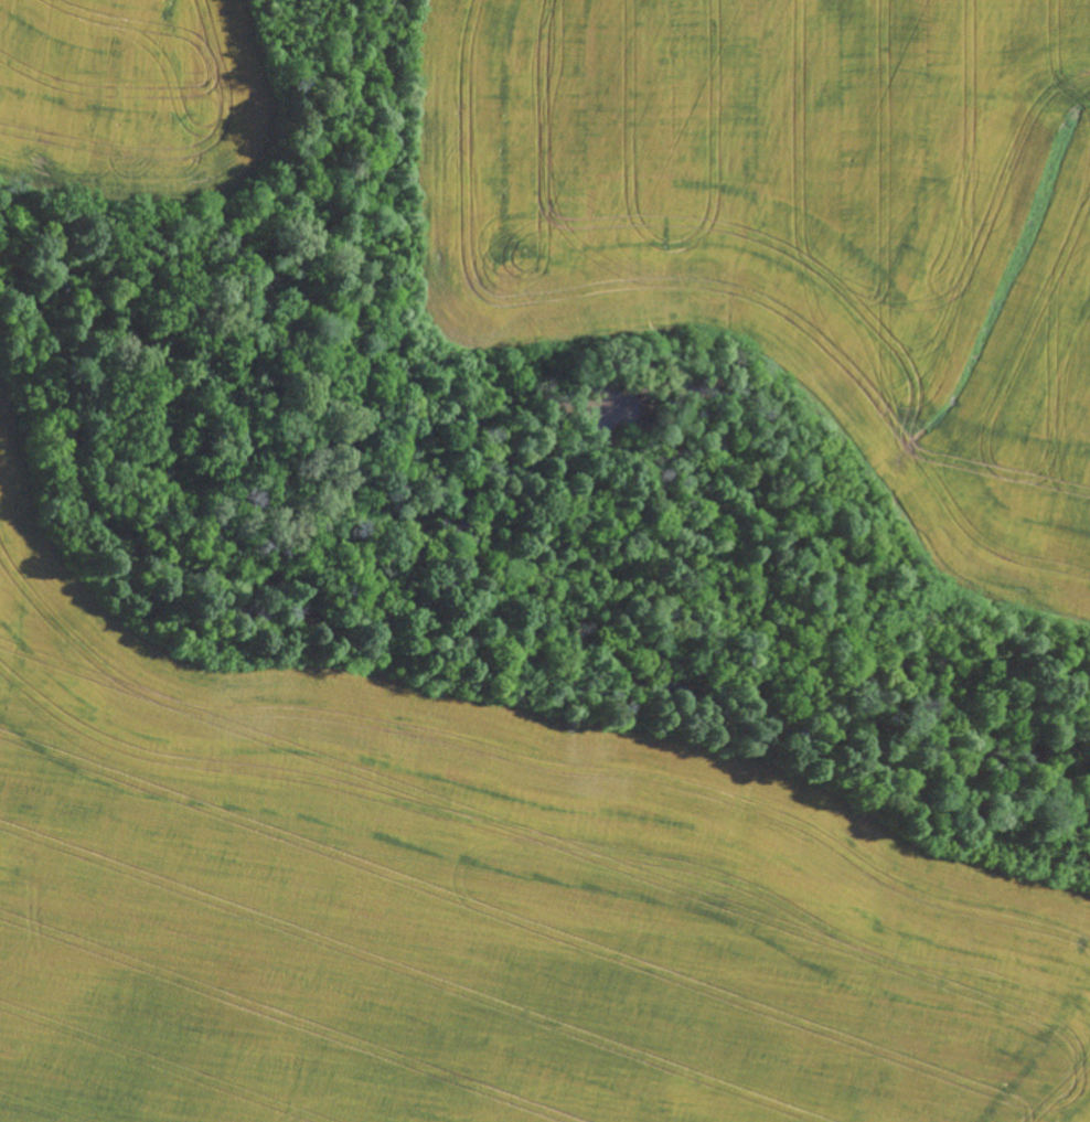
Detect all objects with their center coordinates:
road: (982, 75)

